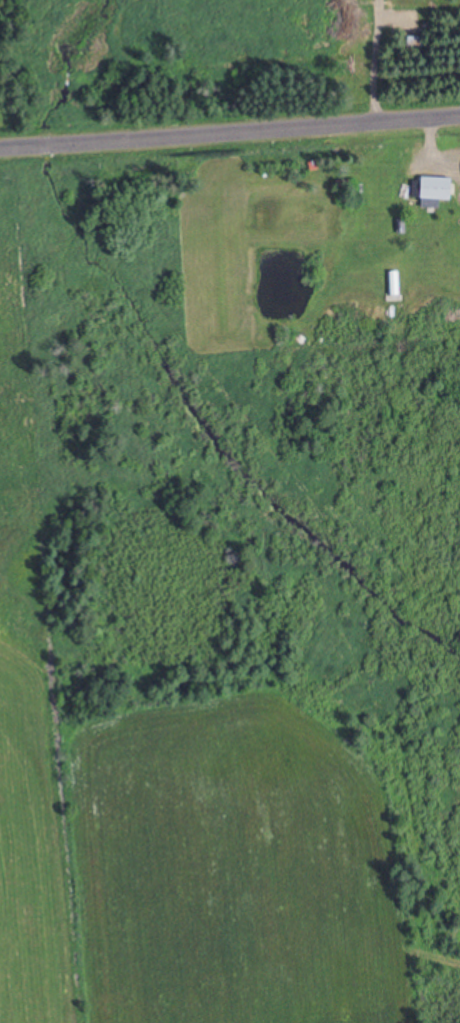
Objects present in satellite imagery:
road: (229, 128)
building: (433, 187)
crop: (184, 853)

